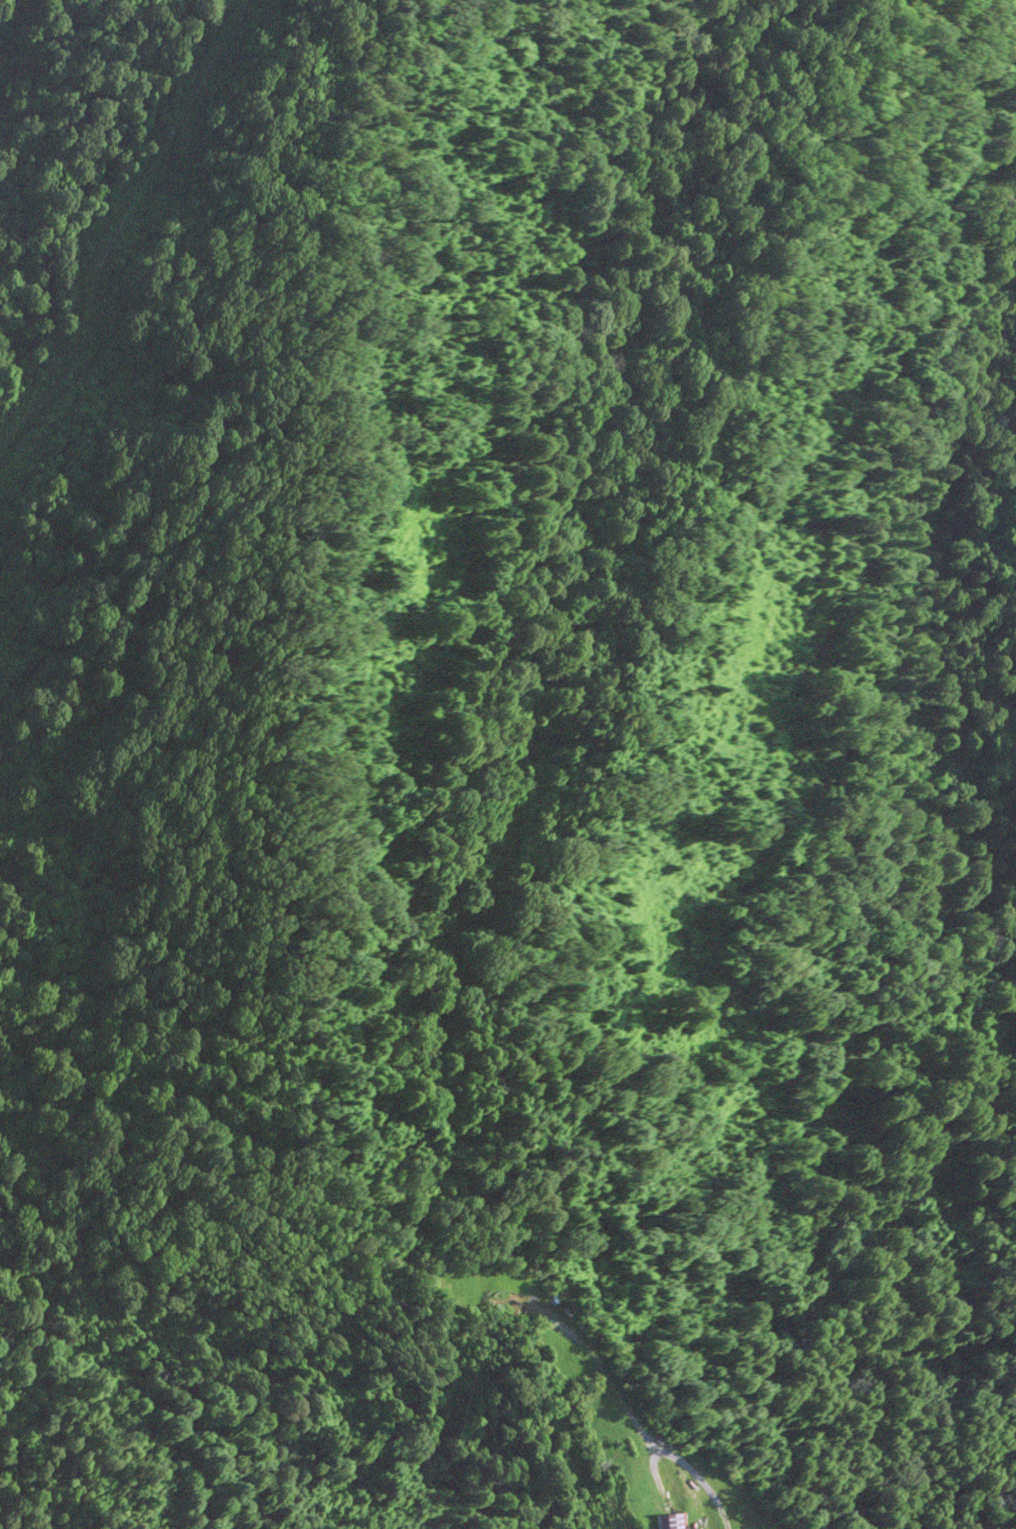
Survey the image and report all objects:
road: (627, 1413)
building: (670, 1521)

